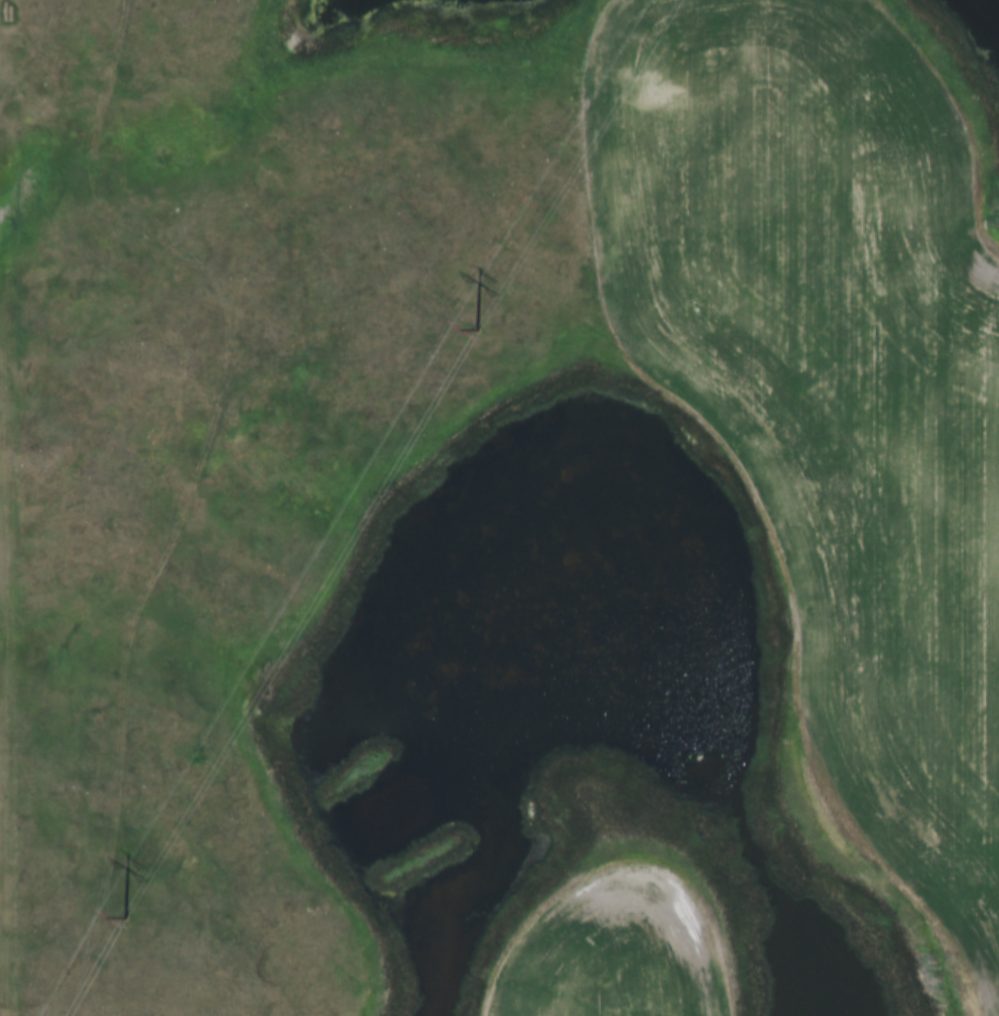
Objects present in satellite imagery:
power tower: (468, 315)
power tower: (113, 906)

